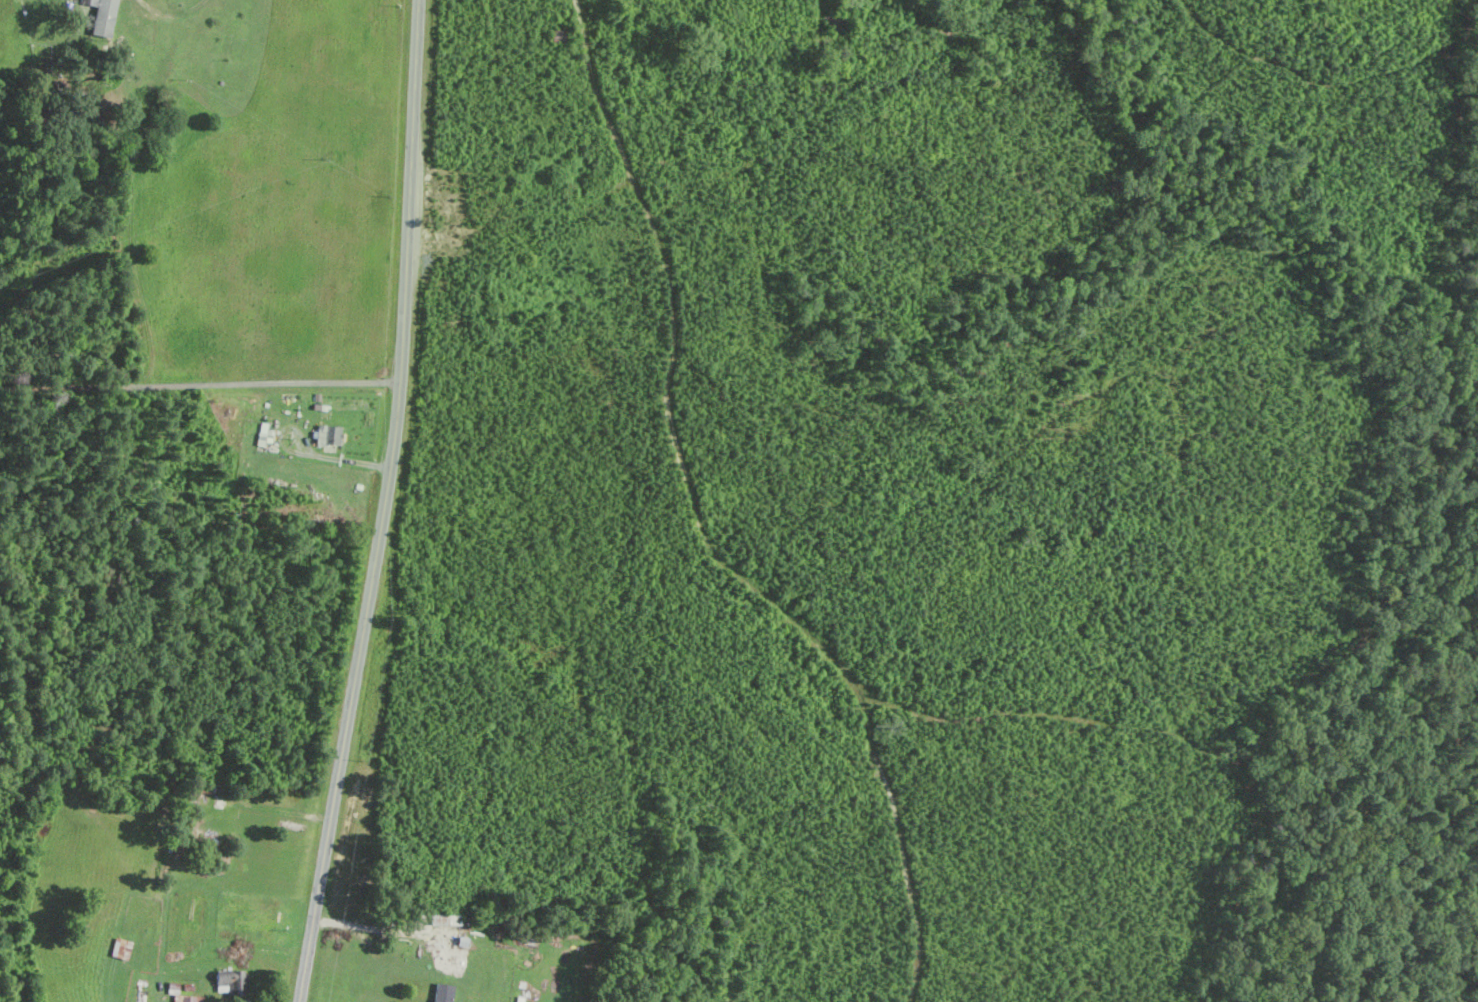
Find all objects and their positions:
road: (170, 11)
building: (104, 17)
road: (200, 383)
building: (330, 436)
road: (305, 453)
road: (385, 503)
road: (380, 929)
building: (227, 980)
building: (444, 992)
building: (180, 998)

